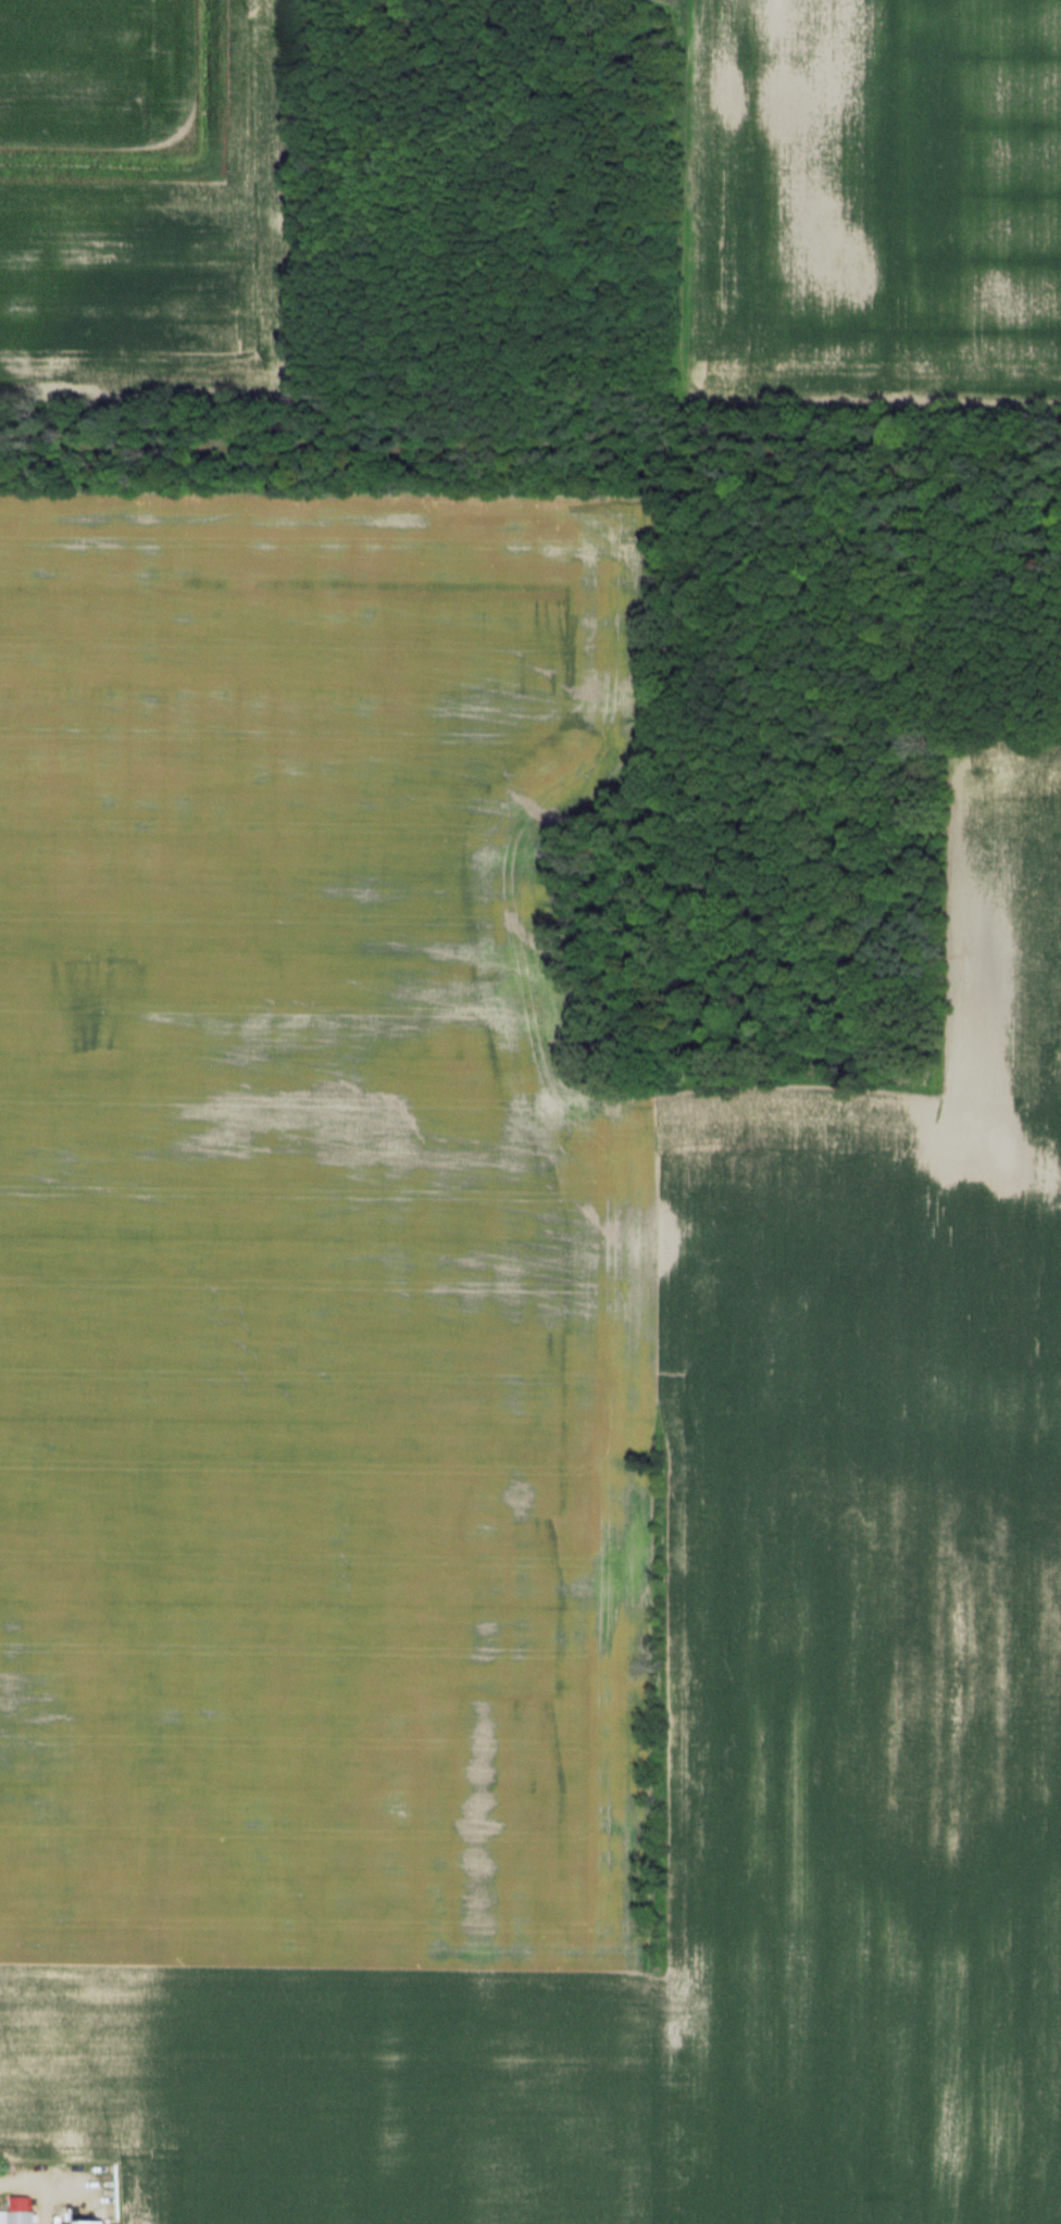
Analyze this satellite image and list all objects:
railway: (530, 446)
road: (68, 2181)
building: (23, 2216)
building: (0, 2220)
building: (83, 2222)

